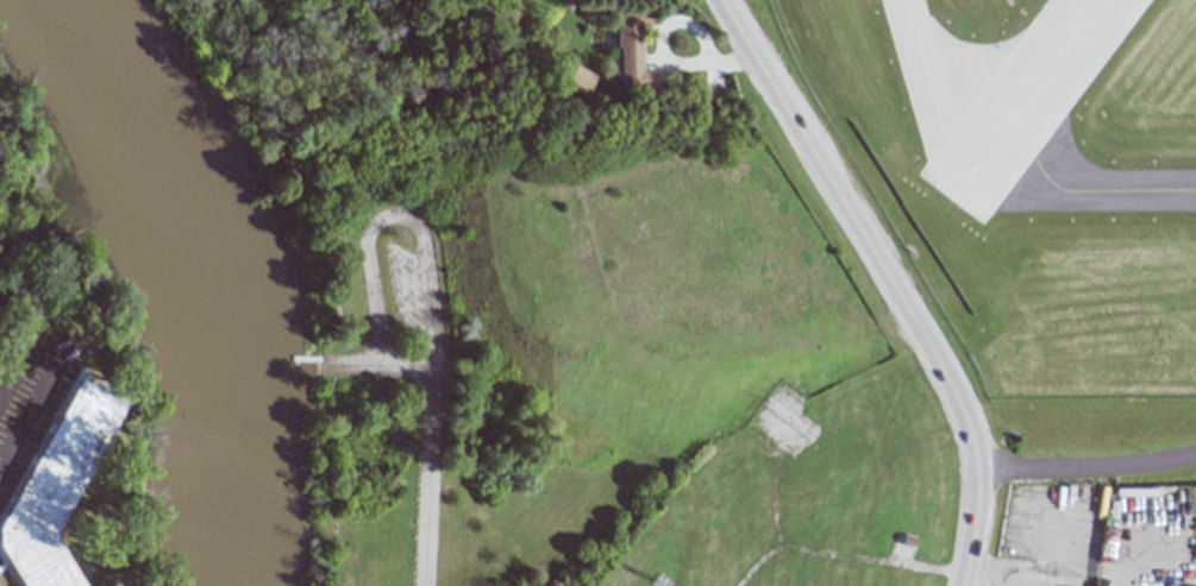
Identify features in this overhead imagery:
building: (632, 52)
building: (578, 78)
airport taxiway: (947, 87)
airport runway: (1023, 97)
airport: (1028, 171)
airport taxiway: (1067, 188)
road: (422, 263)
river: (205, 270)
road: (890, 283)
pier: (298, 359)
road: (44, 382)
road: (1091, 464)
road: (425, 477)
building: (51, 485)

